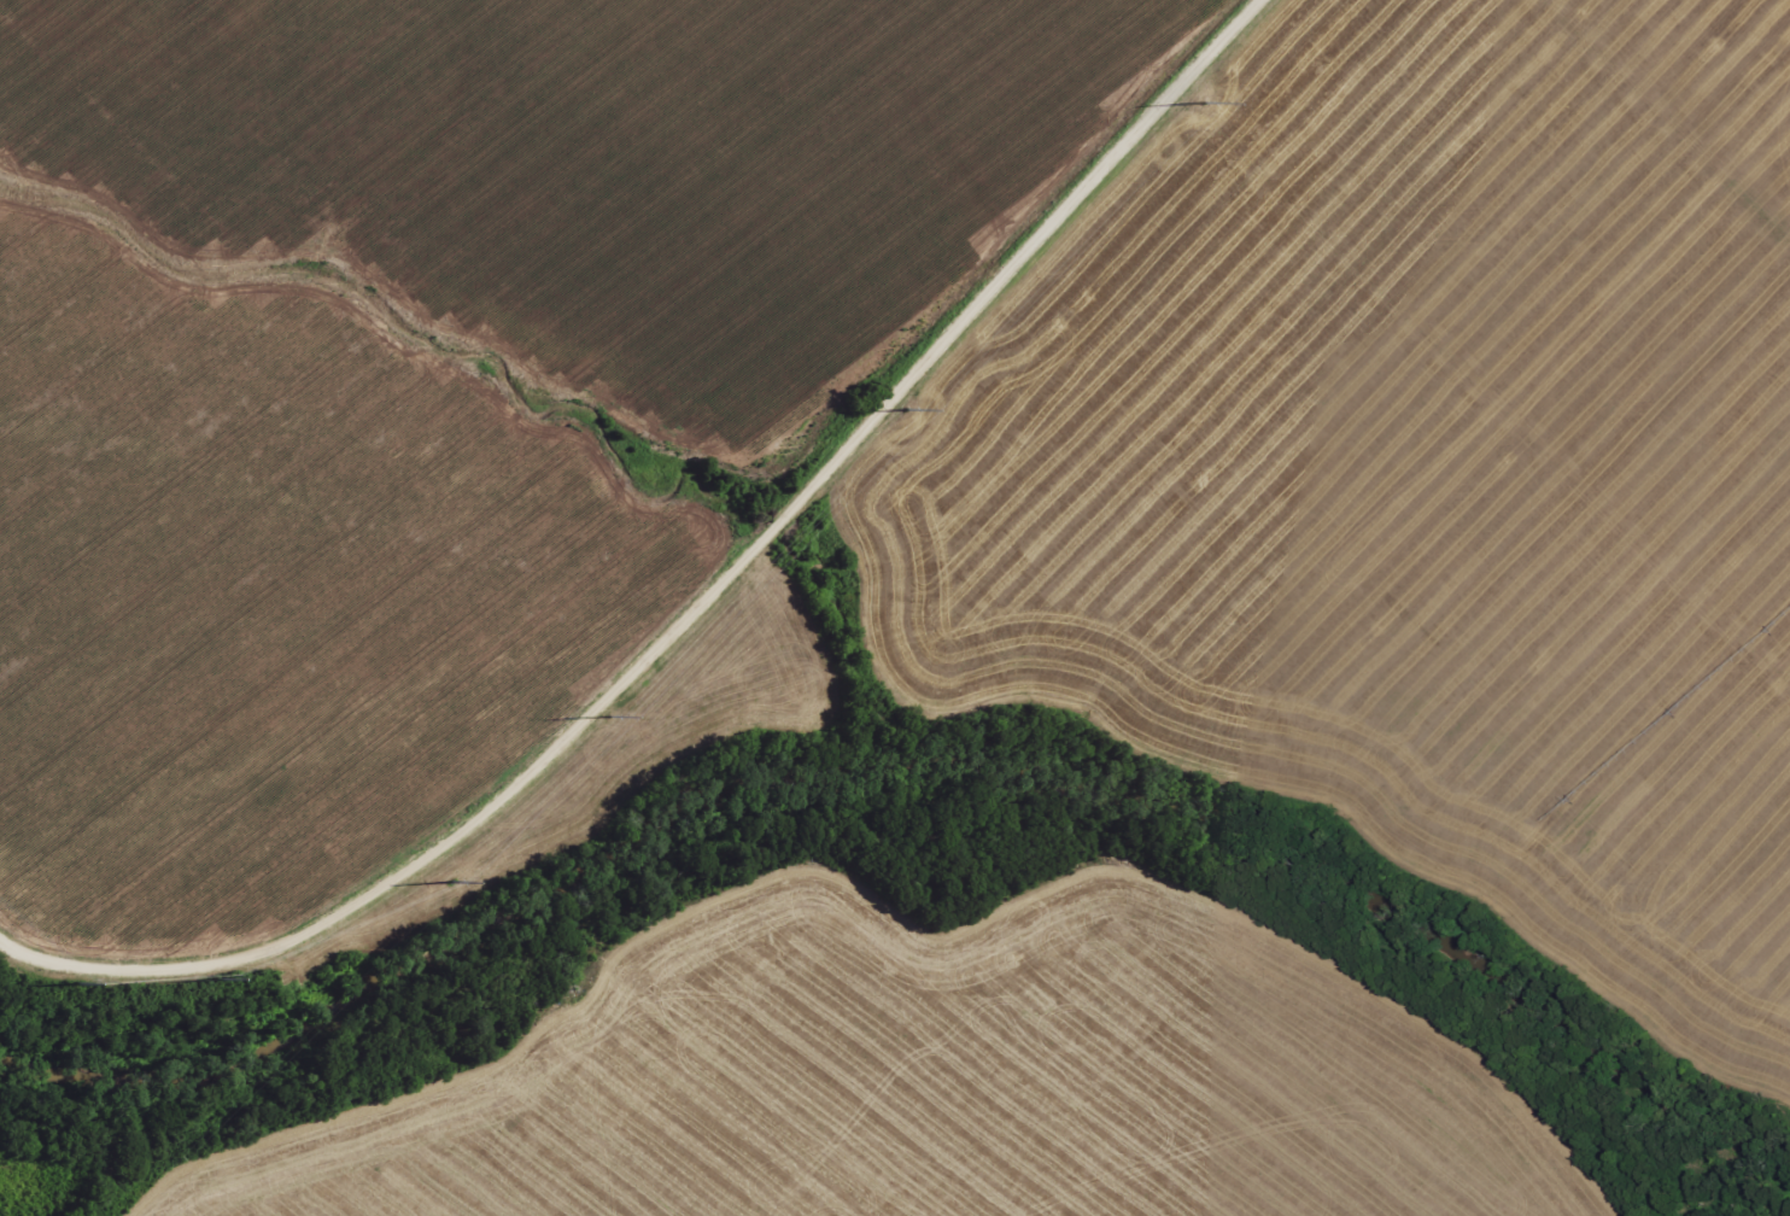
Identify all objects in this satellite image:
power tower: (1204, 101)
power tower: (907, 409)
road: (688, 596)
power tower: (609, 719)
power tower: (452, 883)
power tower: (220, 981)
power tower: (76, 986)

